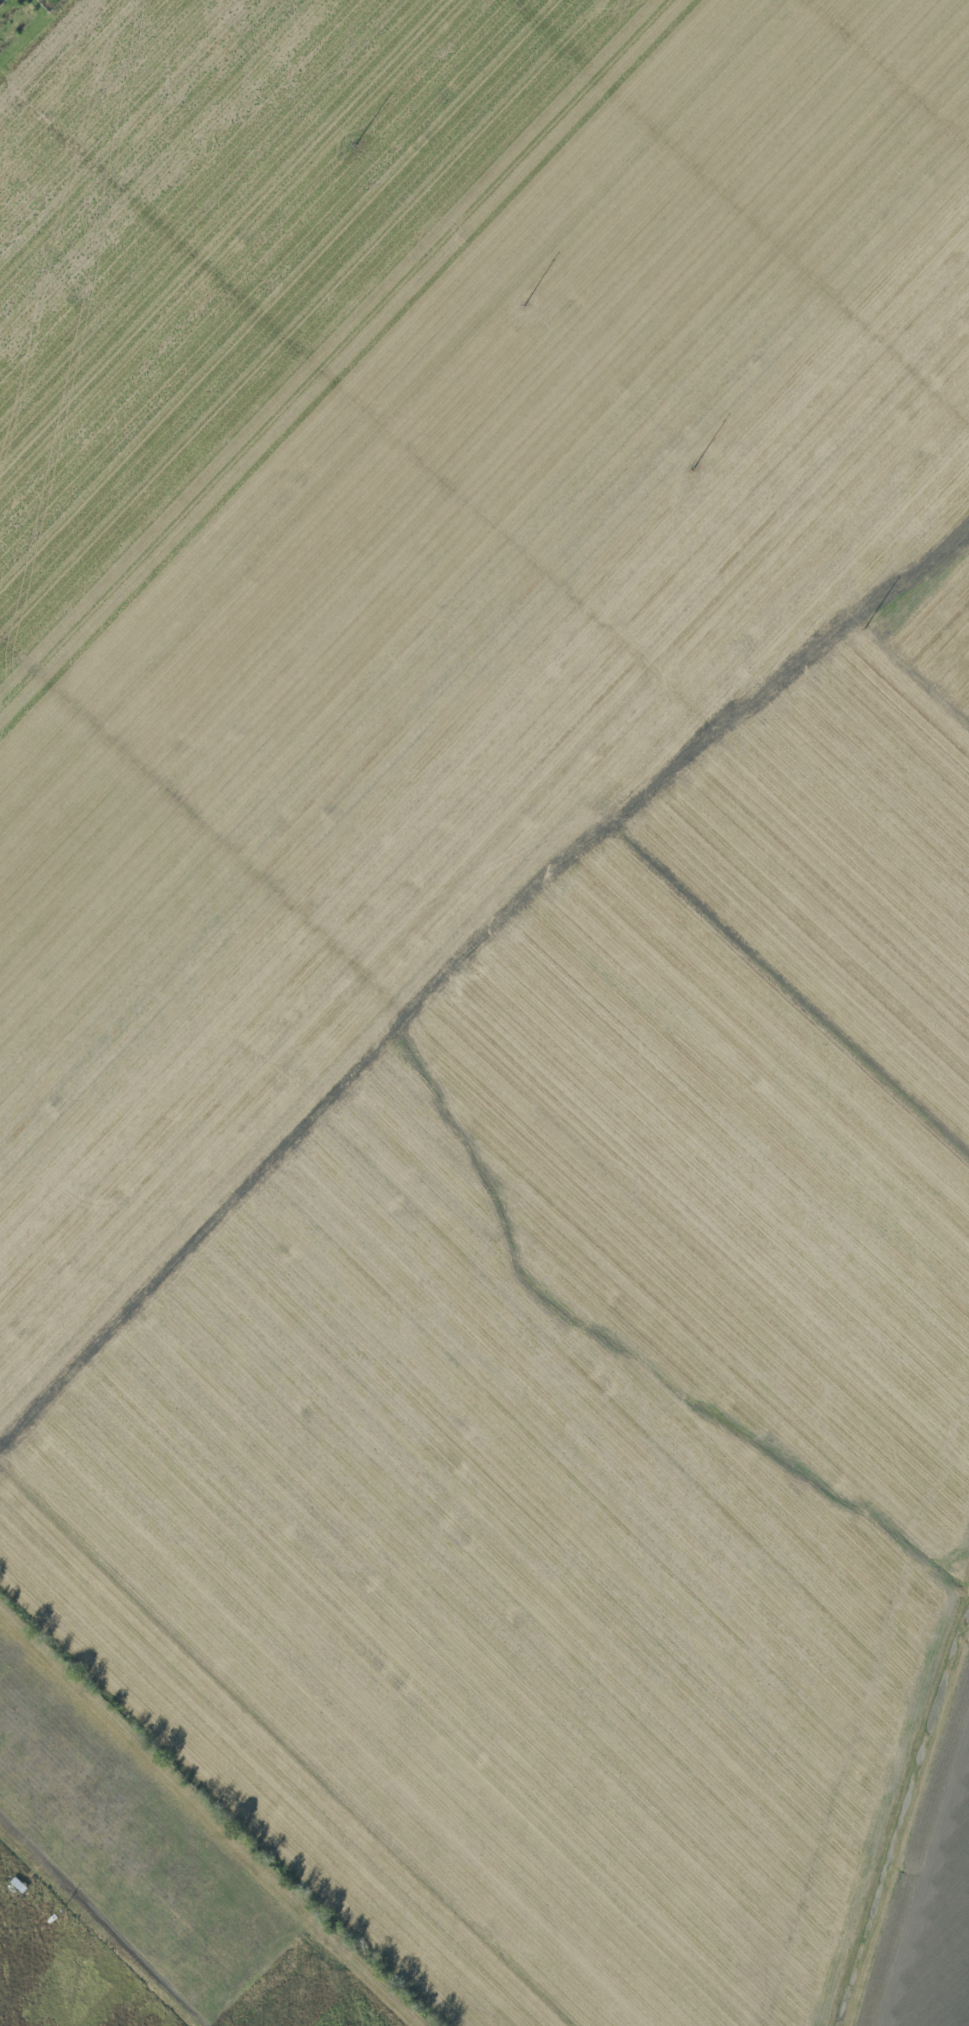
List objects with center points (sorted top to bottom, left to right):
road: (38, 40)
road: (216, 1813)

